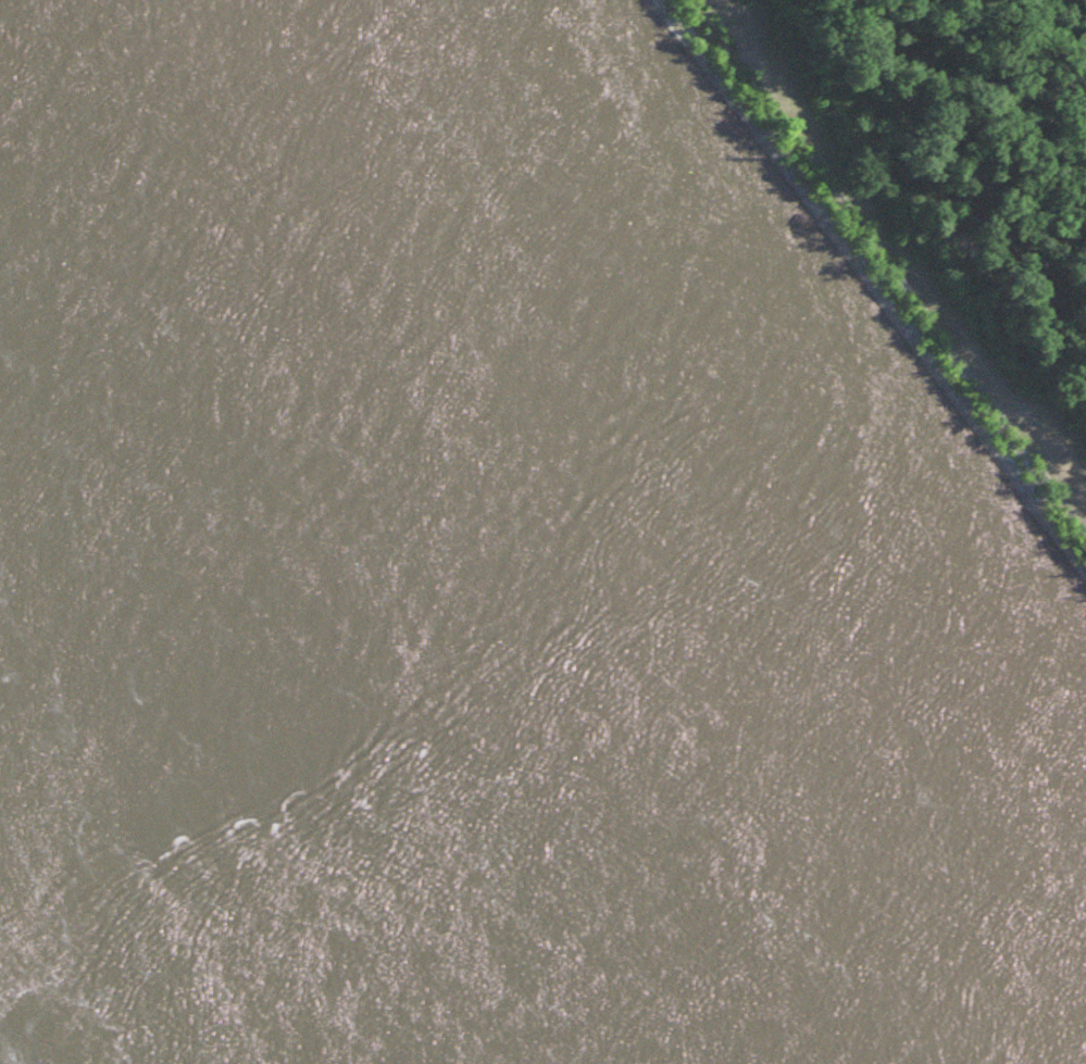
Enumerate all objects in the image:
river: (79, 905)
river: (177, 1037)

